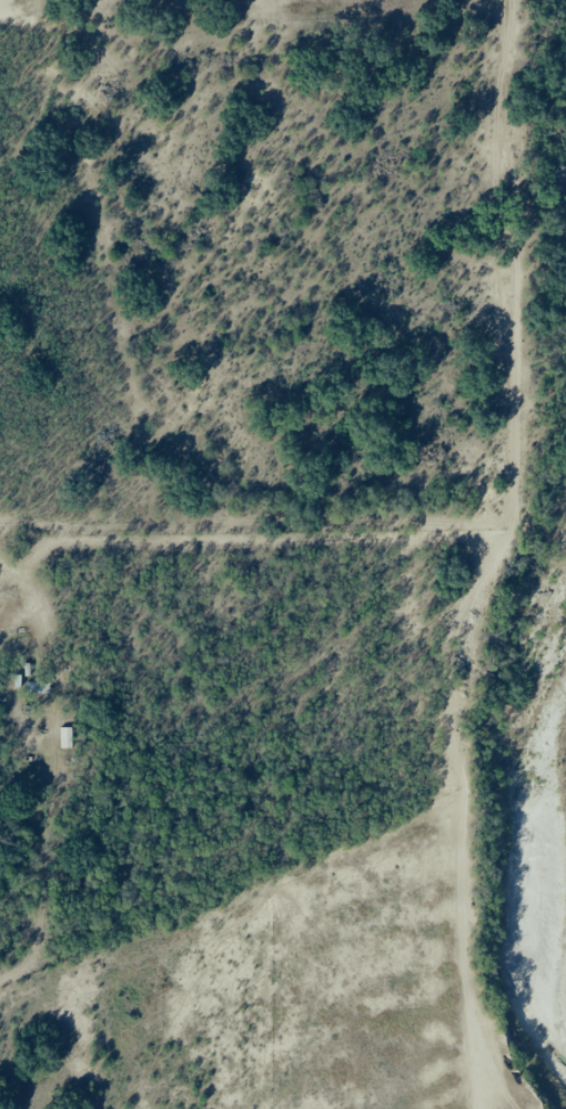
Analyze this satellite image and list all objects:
road: (251, 534)
road: (487, 555)
road: (36, 608)
building: (38, 689)

